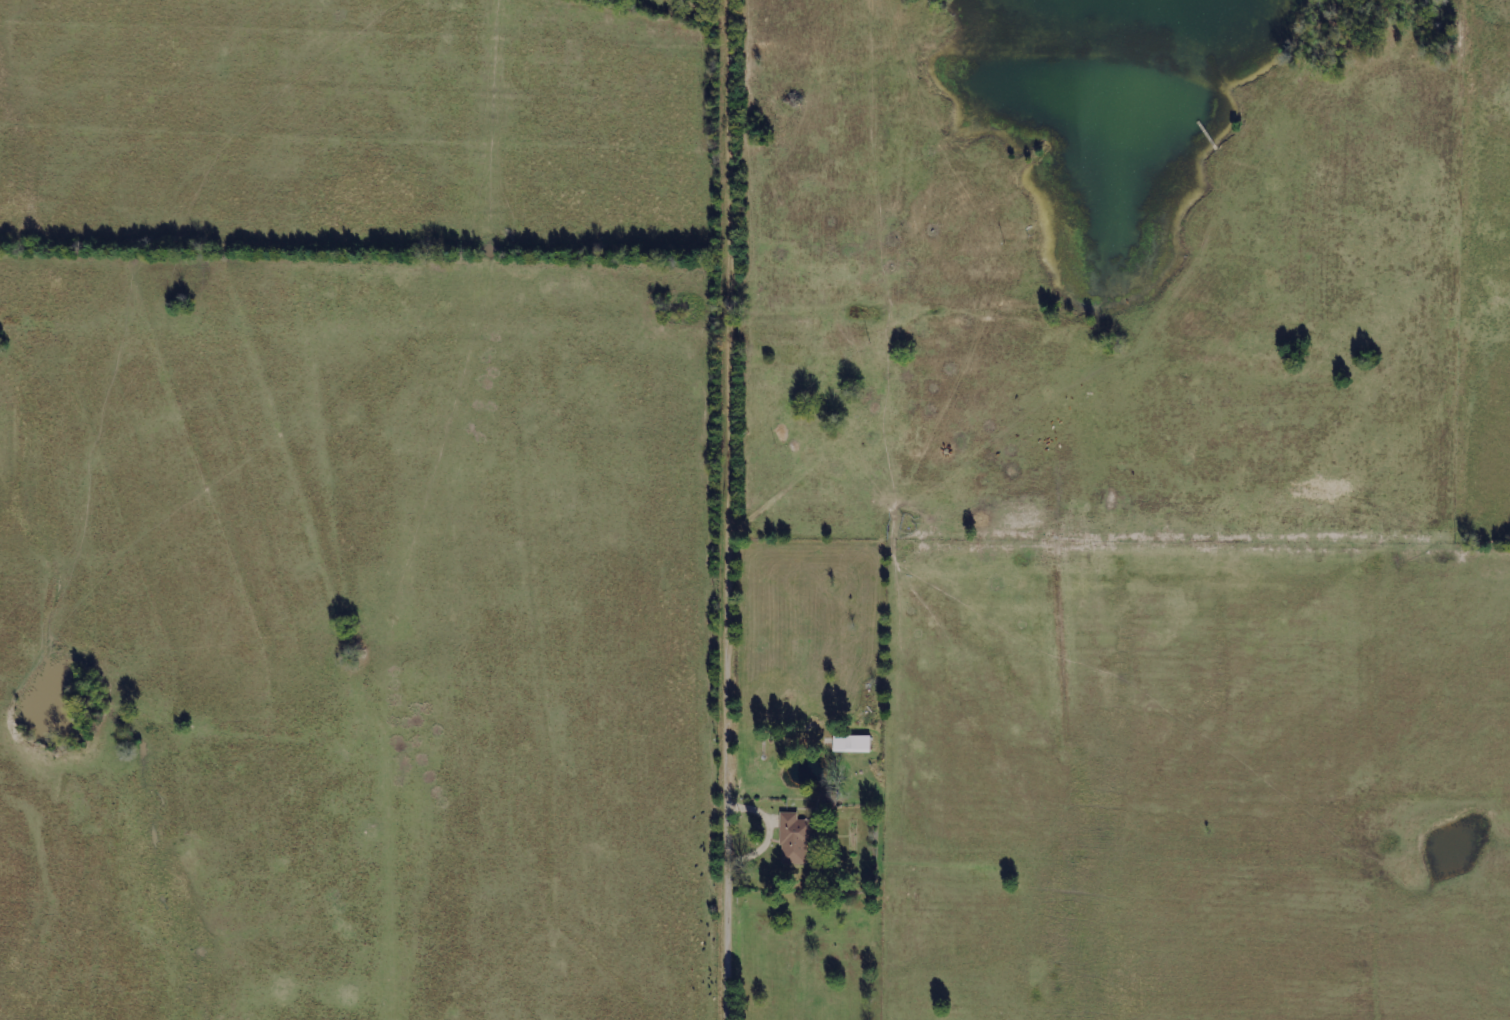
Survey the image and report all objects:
road: (736, 510)
building: (854, 743)
building: (796, 838)

